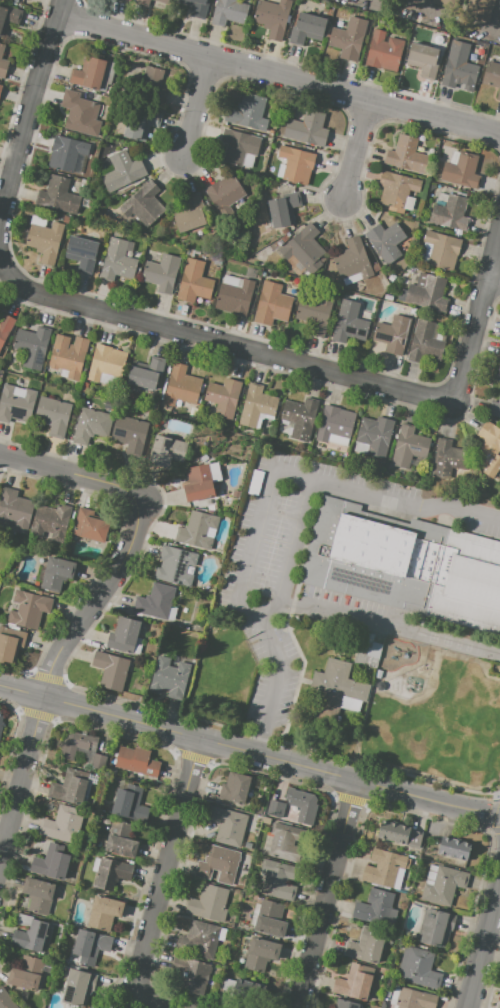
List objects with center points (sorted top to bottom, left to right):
building: (126, 0)
building: (142, 2)
building: (448, 3)
building: (160, 4)
building: (196, 7)
building: (480, 10)
building: (229, 12)
building: (9, 17)
building: (273, 18)
building: (499, 23)
building: (307, 28)
building: (349, 38)
building: (384, 51)
building: (424, 59)
building: (2, 63)
building: (458, 69)
building: (92, 74)
road: (280, 75)
building: (494, 78)
building: (153, 85)
building: (0, 87)
road: (193, 102)
road: (32, 111)
building: (247, 112)
building: (80, 113)
building: (141, 123)
building: (306, 128)
road: (352, 143)
building: (239, 146)
building: (68, 154)
building: (406, 154)
building: (296, 164)
building: (461, 170)
building: (123, 171)
building: (397, 191)
building: (225, 195)
building: (60, 197)
building: (442, 197)
building: (441, 203)
building: (143, 204)
building: (284, 210)
building: (450, 213)
building: (191, 214)
building: (45, 241)
building: (385, 242)
building: (442, 250)
building: (304, 251)
building: (82, 252)
road: (3, 260)
building: (118, 260)
building: (353, 261)
building: (162, 273)
road: (496, 274)
building: (194, 282)
building: (401, 294)
building: (428, 294)
building: (234, 295)
building: (388, 298)
building: (272, 304)
building: (315, 311)
building: (413, 311)
building: (419, 313)
building: (349, 323)
road: (478, 323)
building: (5, 328)
building: (393, 334)
road: (227, 344)
building: (426, 344)
building: (31, 346)
building: (499, 355)
building: (66, 356)
building: (106, 363)
building: (146, 373)
building: (180, 386)
building: (224, 398)
building: (16, 403)
building: (88, 404)
building: (256, 406)
building: (494, 409)
building: (54, 415)
building: (301, 417)
building: (334, 424)
building: (91, 426)
building: (129, 434)
building: (375, 435)
building: (395, 436)
building: (408, 447)
building: (360, 448)
building: (488, 450)
building: (167, 451)
building: (204, 458)
building: (448, 459)
building: (215, 472)
building: (198, 484)
building: (235, 494)
road: (402, 505)
building: (212, 507)
building: (14, 510)
park: (280, 514)
building: (51, 521)
building: (90, 526)
building: (198, 531)
road: (257, 533)
building: (372, 556)
park: (266, 564)
building: (175, 566)
building: (57, 574)
building: (467, 584)
building: (223, 596)
building: (156, 601)
road: (90, 606)
building: (30, 609)
building: (172, 614)
road: (261, 615)
road: (388, 625)
building: (125, 637)
building: (11, 644)
building: (367, 649)
building: (112, 670)
building: (170, 676)
building: (135, 686)
building: (337, 689)
building: (2, 719)
building: (80, 746)
road: (249, 752)
building: (99, 761)
building: (136, 762)
building: (92, 779)
building: (70, 787)
building: (235, 788)
building: (126, 801)
building: (302, 805)
building: (260, 808)
building: (275, 808)
building: (63, 824)
building: (227, 825)
building: (399, 834)
building: (121, 839)
building: (285, 842)
building: (454, 848)
building: (52, 861)
building: (96, 864)
building: (218, 865)
building: (386, 869)
building: (112, 873)
building: (279, 880)
road: (164, 882)
building: (443, 884)
road: (328, 894)
building: (39, 896)
building: (210, 903)
building: (376, 908)
building: (104, 913)
building: (269, 918)
building: (436, 927)
building: (32, 935)
building: (222, 935)
building: (201, 940)
road: (482, 942)
building: (367, 945)
building: (90, 946)
building: (261, 953)
building: (418, 967)
building: (26, 973)
building: (191, 975)
building: (353, 983)
building: (227, 985)
building: (78, 987)
building: (246, 990)
building: (410, 998)
building: (6, 1000)
building: (346, 1004)
building: (383, 1004)

